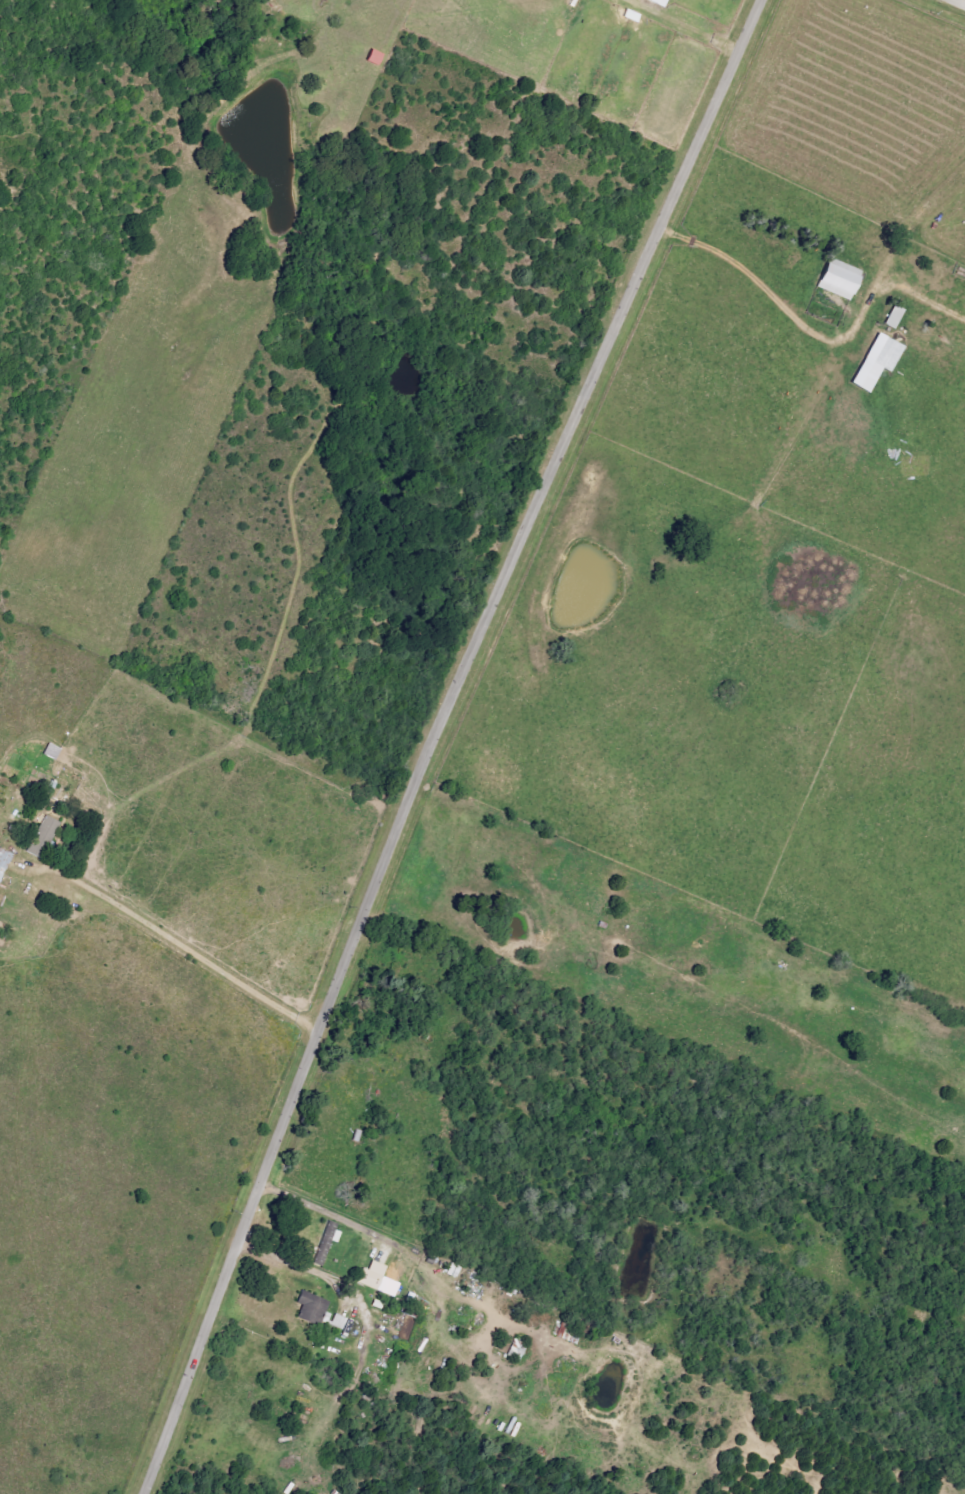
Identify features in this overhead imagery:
building: (662, 2)
road: (957, 3)
building: (377, 57)
building: (843, 279)
building: (896, 317)
road: (837, 339)
building: (880, 361)
road: (434, 740)
building: (45, 837)
building: (4, 863)
road: (181, 945)
road: (330, 1213)
building: (453, 1270)
building: (373, 1278)
building: (309, 1308)

